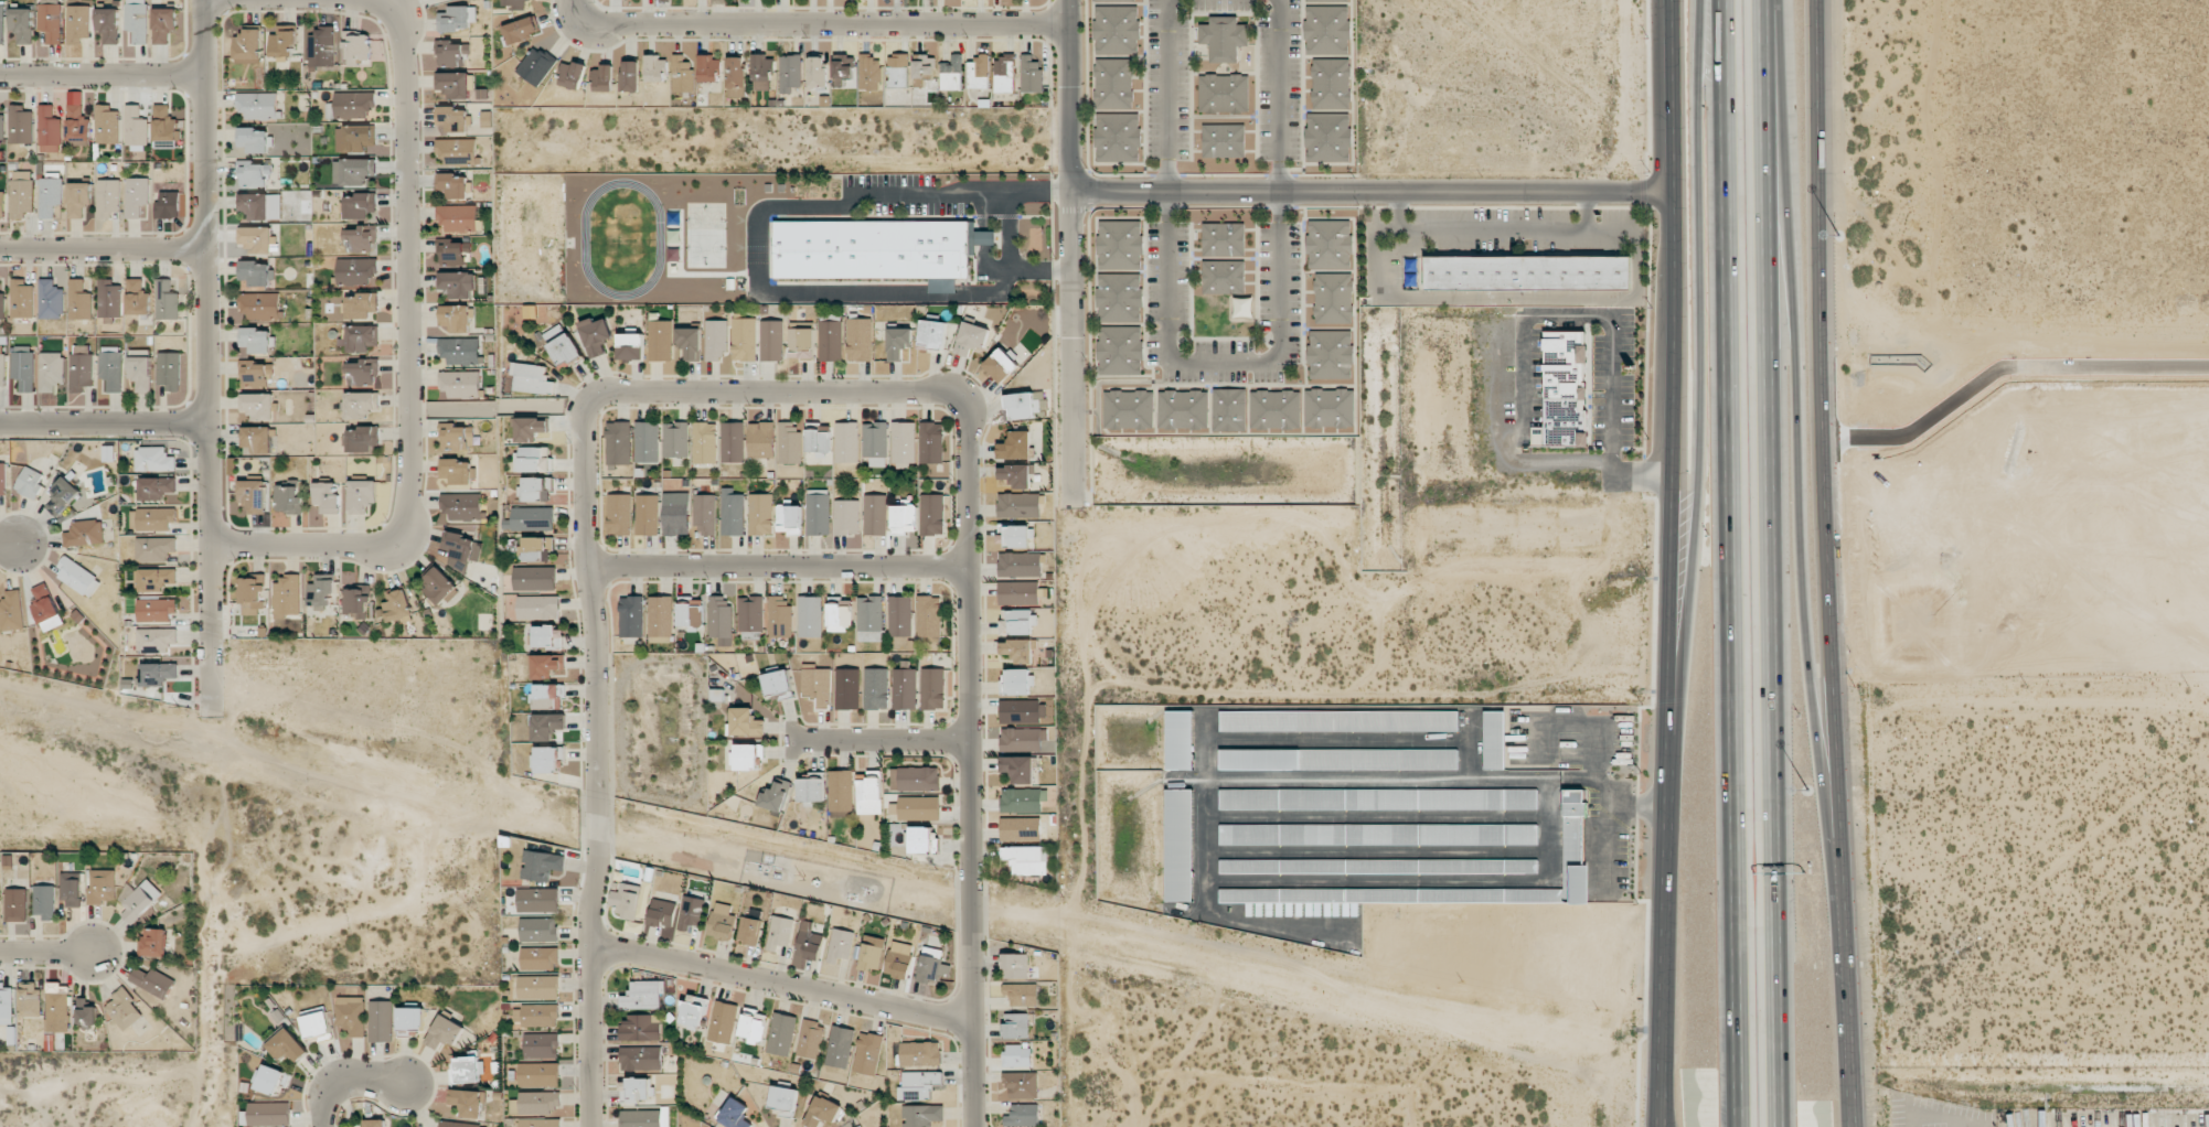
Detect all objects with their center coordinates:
building: (1104, 0)
building: (1328, 0)
building: (719, 2)
building: (514, 3)
building: (457, 19)
building: (137, 20)
building: (51, 22)
building: (78, 23)
building: (1, 24)
building: (22, 24)
building: (108, 24)
building: (163, 24)
road: (809, 25)
building: (521, 30)
building: (1117, 30)
building: (1327, 30)
building: (1224, 37)
building: (282, 41)
building: (248, 44)
building: (322, 47)
building: (356, 49)
building: (453, 54)
building: (536, 65)
building: (924, 66)
building: (655, 68)
building: (709, 68)
building: (897, 69)
building: (843, 71)
building: (762, 72)
building: (817, 72)
building: (871, 72)
building: (978, 72)
building: (789, 73)
building: (952, 73)
road: (104, 74)
building: (682, 74)
building: (1004, 74)
building: (1031, 74)
building: (573, 75)
building: (629, 76)
building: (736, 76)
building: (604, 78)
building: (1331, 84)
building: (453, 85)
building: (1223, 94)
road: (1168, 95)
road: (1277, 95)
building: (354, 104)
building: (259, 106)
building: (1098, 110)
building: (451, 119)
building: (77, 120)
building: (20, 125)
building: (107, 125)
building: (136, 126)
building: (166, 127)
building: (1, 128)
building: (49, 130)
building: (1328, 137)
building: (360, 138)
building: (255, 140)
building: (1224, 140)
building: (457, 151)
building: (354, 171)
building: (255, 174)
building: (453, 185)
road: (1374, 191)
building: (21, 193)
building: (50, 195)
building: (137, 195)
building: (108, 197)
building: (78, 198)
building: (1, 204)
building: (168, 204)
building: (255, 205)
building: (361, 205)
building: (458, 217)
road: (1007, 229)
road: (1493, 229)
building: (257, 238)
building: (362, 238)
building: (1223, 239)
building: (1330, 244)
building: (1120, 245)
road: (105, 249)
building: (871, 249)
road: (1074, 251)
building: (453, 253)
road: (759, 256)
building: (356, 271)
building: (256, 272)
building: (1527, 272)
building: (1223, 277)
building: (458, 283)
road: (402, 296)
building: (1120, 297)
road: (1517, 297)
building: (138, 298)
building: (1334, 298)
building: (22, 299)
building: (109, 299)
building: (51, 300)
building: (79, 300)
building: (167, 300)
building: (361, 304)
building: (2, 305)
building: (259, 305)
building: (1242, 307)
building: (457, 318)
building: (932, 334)
building: (596, 335)
building: (362, 337)
building: (830, 337)
building: (971, 337)
building: (860, 339)
building: (257, 340)
building: (660, 340)
building: (716, 340)
building: (744, 340)
building: (771, 340)
building: (690, 342)
building: (898, 342)
building: (801, 343)
building: (630, 346)
building: (1120, 350)
building: (459, 351)
building: (565, 351)
building: (1331, 354)
road: (211, 358)
road: (1224, 359)
building: (1001, 365)
building: (23, 367)
building: (81, 367)
building: (2, 369)
building: (110, 369)
building: (140, 369)
building: (168, 369)
building: (51, 371)
building: (362, 373)
building: (257, 374)
building: (532, 378)
building: (460, 384)
road: (1704, 384)
building: (1562, 390)
building: (361, 405)
building: (257, 406)
building: (1021, 406)
building: (1328, 408)
building: (1129, 409)
building: (1274, 409)
building: (1183, 410)
building: (1229, 410)
road: (106, 419)
building: (531, 428)
road: (1801, 429)
building: (458, 437)
building: (257, 439)
building: (363, 439)
building: (675, 439)
building: (761, 440)
building: (647, 441)
building: (618, 442)
building: (704, 442)
building: (732, 442)
building: (789, 442)
building: (846, 442)
building: (875, 442)
building: (904, 442)
building: (931, 442)
building: (1015, 446)
building: (153, 459)
building: (532, 460)
building: (457, 471)
building: (1016, 475)
building: (2, 479)
building: (30, 482)
building: (157, 487)
building: (537, 489)
building: (62, 495)
building: (254, 495)
building: (362, 495)
building: (327, 496)
building: (288, 500)
building: (1018, 504)
building: (462, 506)
building: (732, 513)
building: (619, 514)
building: (647, 514)
building: (675, 514)
building: (704, 514)
building: (761, 514)
building: (818, 514)
building: (874, 514)
building: (931, 515)
building: (846, 517)
building: (152, 518)
building: (904, 518)
building: (789, 519)
building: (85, 533)
road: (8, 544)
building: (154, 548)
building: (537, 548)
building: (460, 549)
road: (1672, 563)
road: (1729, 563)
road: (1778, 563)
road: (1828, 563)
building: (1020, 565)
road: (779, 567)
road: (593, 571)
building: (78, 577)
building: (535, 578)
building: (154, 579)
building: (439, 586)
building: (1018, 592)
building: (250, 594)
building: (287, 598)
building: (358, 602)
building: (396, 605)
building: (45, 608)
building: (538, 608)
building: (157, 609)
building: (11, 611)
building: (690, 614)
building: (839, 615)
building: (899, 615)
building: (631, 616)
building: (661, 616)
building: (810, 616)
building: (929, 616)
building: (750, 618)
building: (779, 618)
building: (721, 619)
building: (871, 619)
building: (1017, 621)
building: (549, 636)
building: (156, 640)
building: (1020, 650)
building: (548, 665)
building: (159, 673)
building: (1016, 681)
building: (777, 683)
building: (818, 685)
building: (847, 688)
building: (875, 688)
building: (904, 688)
building: (932, 688)
building: (548, 696)
road: (2021, 699)
building: (1020, 711)
building: (1338, 721)
building: (746, 722)
building: (547, 726)
road: (879, 737)
building: (1022, 738)
building: (1180, 740)
building: (1494, 740)
building: (747, 755)
building: (1338, 759)
building: (549, 760)
road: (969, 762)
building: (1017, 769)
building: (915, 779)
building: (811, 788)
building: (841, 791)
building: (868, 793)
building: (775, 796)
building: (1378, 798)
building: (1022, 799)
building: (919, 807)
building: (1021, 829)
building: (1378, 834)
building: (921, 840)
building: (1572, 840)
building: (1178, 845)
road: (807, 847)
building: (1026, 859)
building: (542, 865)
building: (1378, 866)
building: (102, 885)
building: (71, 889)
building: (138, 899)
building: (538, 900)
building: (626, 900)
building: (44, 901)
building: (15, 904)
building: (690, 912)
building: (662, 913)
building: (722, 921)
road: (216, 922)
building: (538, 930)
building: (749, 930)
building: (780, 932)
building: (809, 941)
building: (152, 943)
building: (841, 945)
road: (43, 952)
building: (871, 956)
building: (538, 958)
building: (898, 964)
building: (1015, 966)
building: (932, 969)
building: (152, 981)
building: (538, 987)
road: (783, 988)
building: (1022, 994)
building: (643, 996)
building: (29, 1000)
building: (6, 1003)
building: (57, 1007)
building: (124, 1009)
building: (86, 1011)
building: (693, 1011)
building: (351, 1015)
building: (540, 1015)
building: (410, 1020)
building: (381, 1021)
building: (723, 1022)
building: (317, 1023)
building: (753, 1026)
building: (1016, 1026)
building: (639, 1028)
building: (445, 1032)
building: (781, 1033)
building: (810, 1039)
building: (541, 1044)
building: (287, 1045)
building: (840, 1046)
building: (867, 1053)
building: (920, 1053)
building: (1017, 1055)
building: (640, 1058)
building: (467, 1070)
building: (538, 1074)
building: (271, 1078)
road: (346, 1084)
building: (917, 1085)
building: (1022, 1085)
building: (637, 1090)
building: (783, 1099)
building: (468, 1102)
building: (536, 1103)
building: (822, 1112)
building: (269, 1114)
building: (734, 1114)
building: (921, 1115)
building: (1023, 1115)
building: (644, 1118)
building: (375, 1123)
building: (538, 1123)
building: (457, 1124)
building: (860, 1126)

